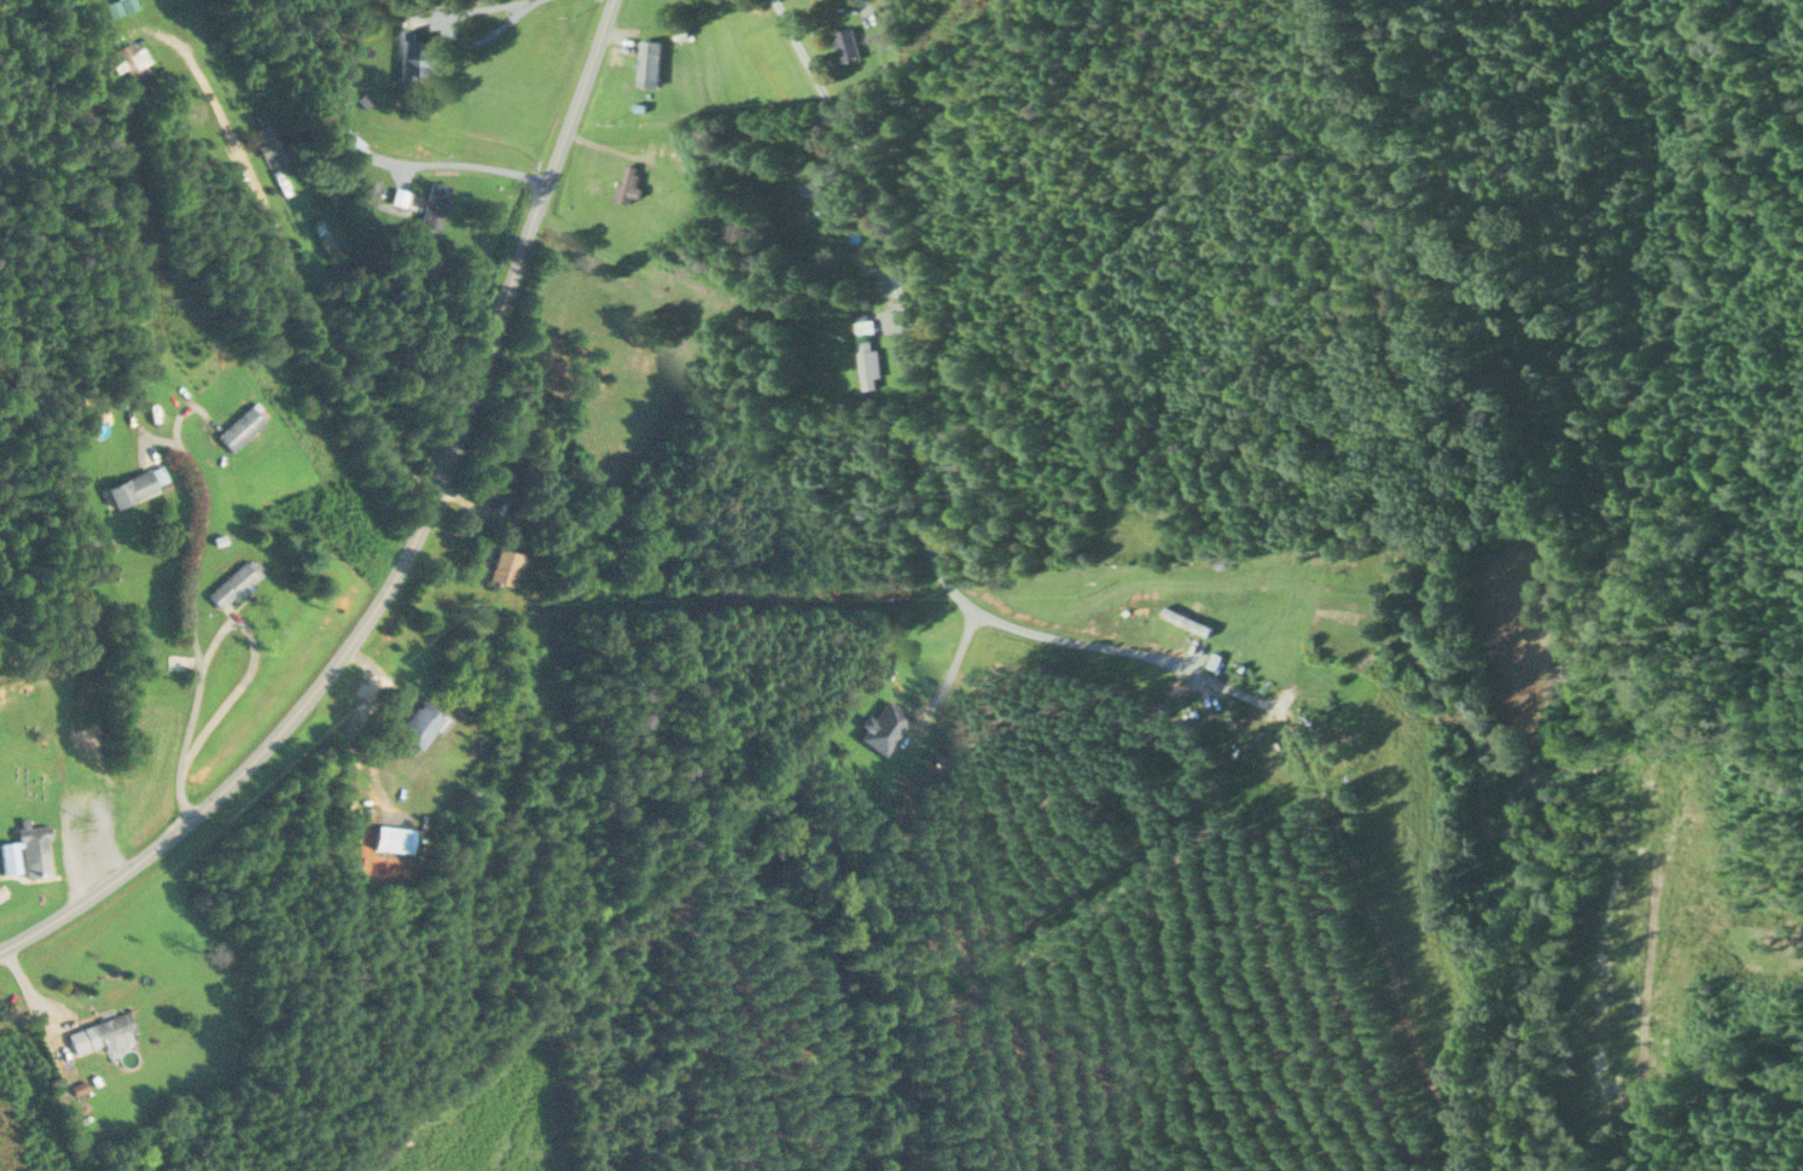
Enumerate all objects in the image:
building: (105, 28)
building: (848, 43)
building: (415, 54)
building: (647, 62)
building: (233, 78)
building: (266, 136)
building: (348, 141)
road: (476, 164)
building: (628, 182)
building: (370, 187)
building: (824, 188)
building: (435, 205)
road: (293, 280)
building: (867, 362)
road: (905, 404)
building: (244, 426)
building: (138, 485)
road: (409, 547)
building: (504, 567)
building: (237, 583)
building: (1188, 621)
road: (192, 628)
building: (56, 640)
building: (175, 664)
road: (950, 666)
road: (395, 705)
building: (421, 724)
building: (885, 726)
building: (30, 851)
building: (104, 1035)

